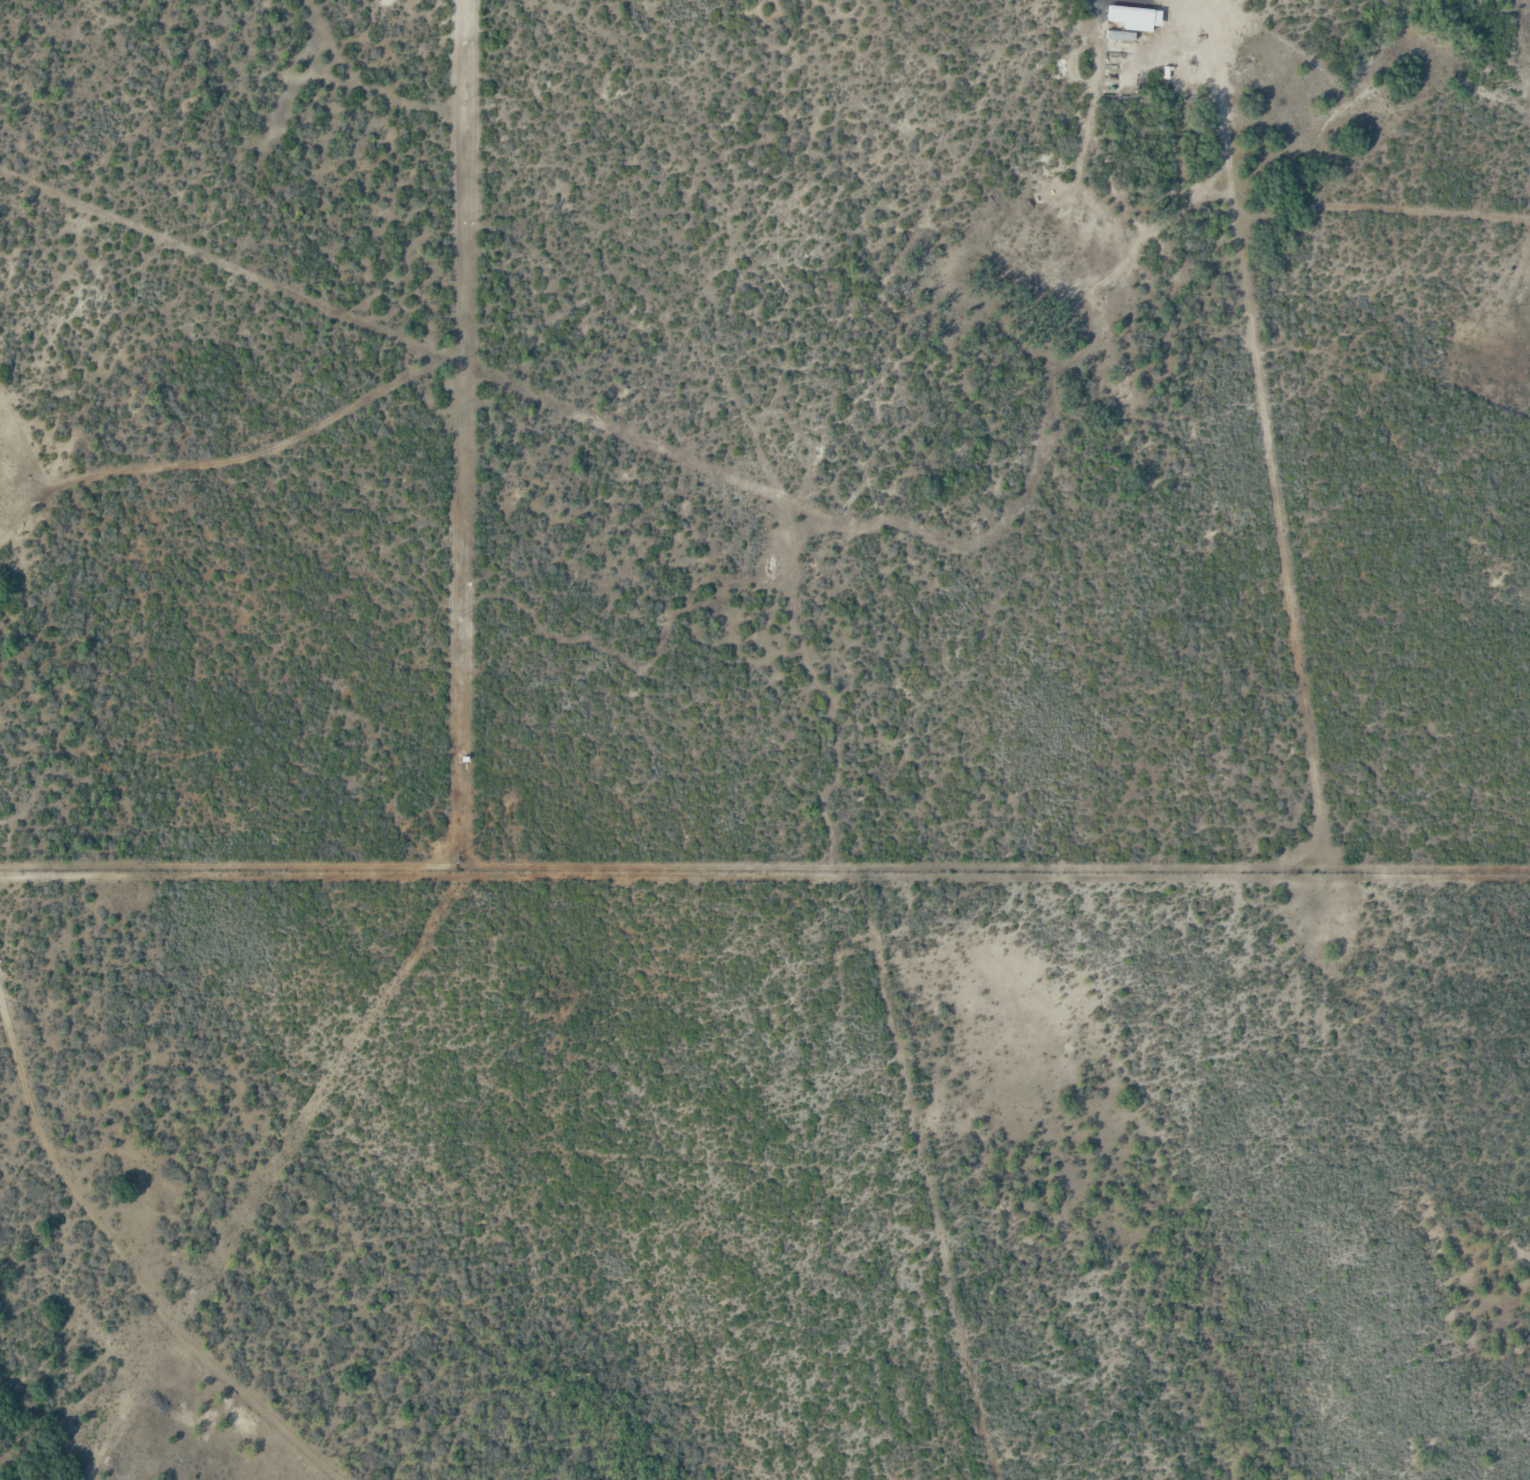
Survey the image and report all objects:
building: (1134, 19)
road: (122, 1257)

